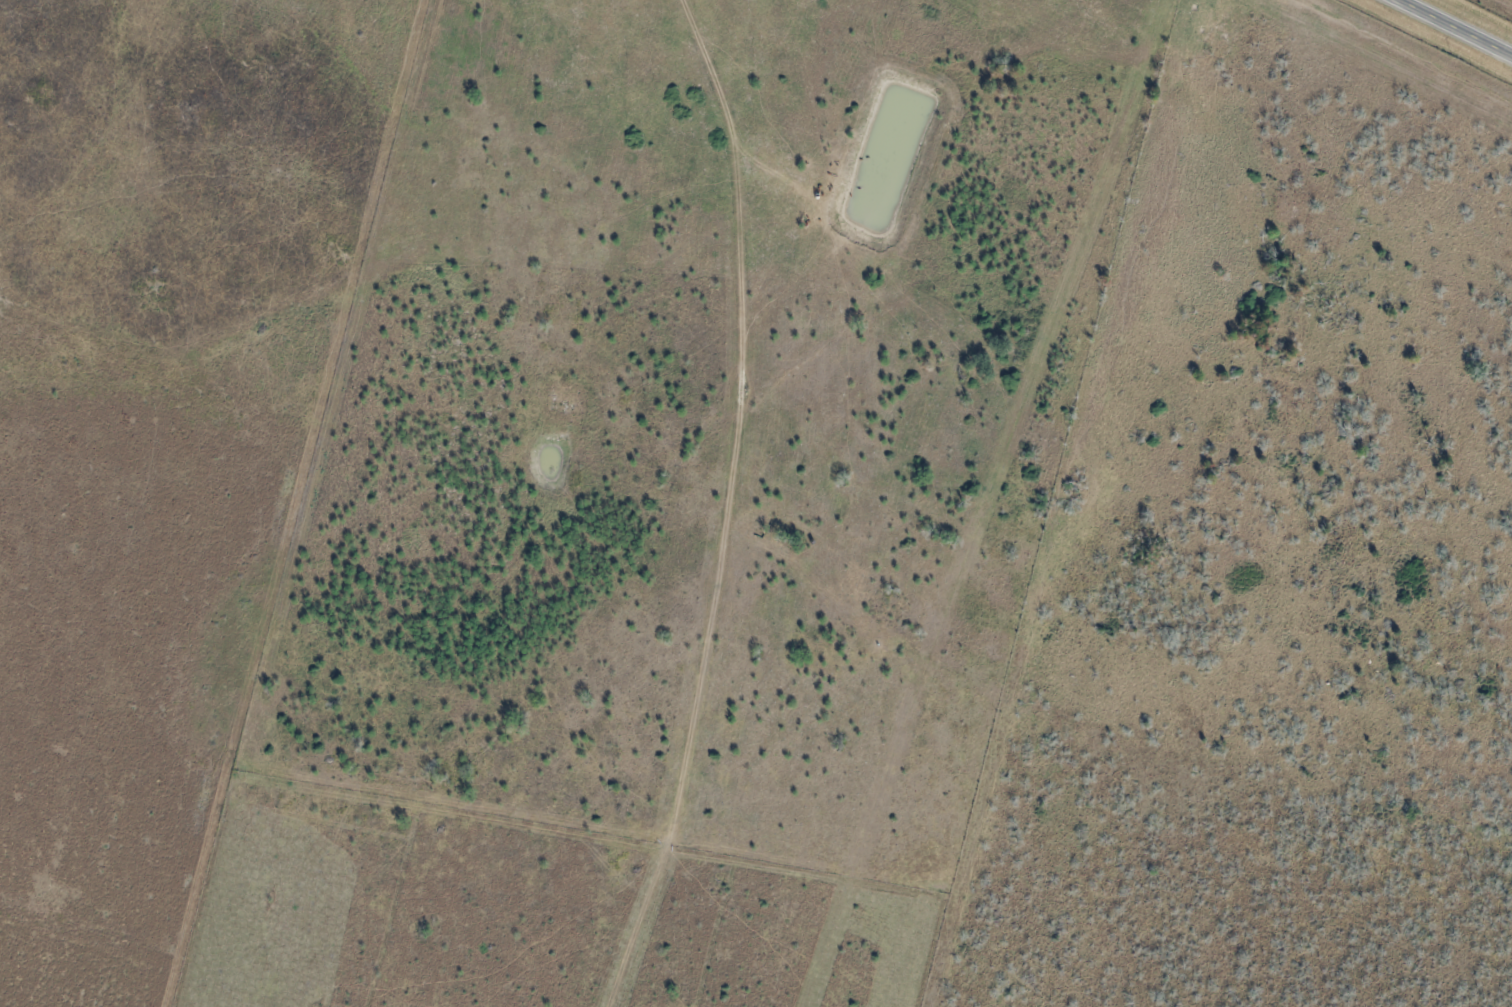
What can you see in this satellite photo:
road: (1461, 24)

